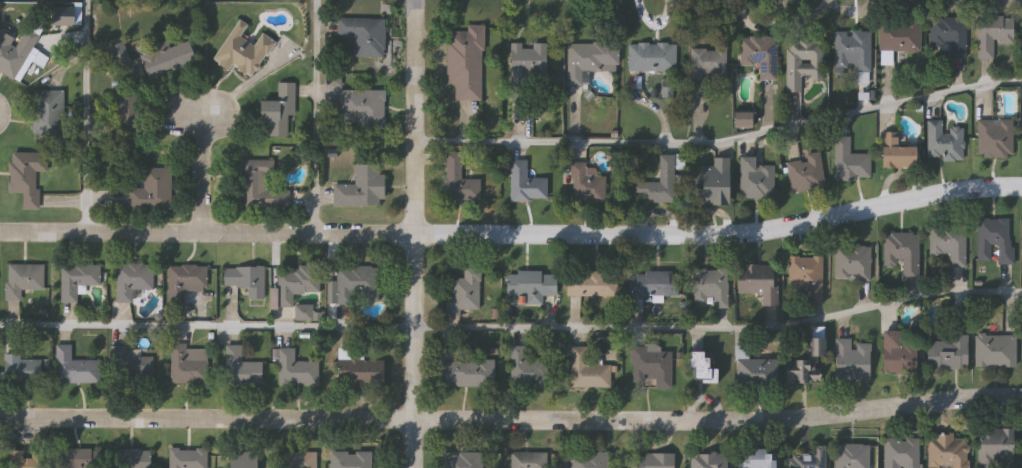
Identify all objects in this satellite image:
building: (950, 34)
building: (993, 34)
building: (365, 35)
building: (900, 36)
building: (243, 50)
building: (853, 50)
building: (14, 52)
building: (118, 54)
building: (760, 55)
building: (652, 57)
building: (590, 59)
building: (169, 60)
building: (467, 62)
building: (803, 62)
building: (528, 63)
building: (706, 69)
building: (364, 108)
building: (279, 110)
building: (48, 114)
building: (126, 115)
road: (87, 116)
road: (318, 117)
building: (742, 118)
building: (995, 138)
road: (722, 141)
building: (945, 141)
building: (897, 152)
building: (850, 161)
road: (203, 171)
building: (806, 172)
building: (26, 175)
building: (756, 178)
building: (460, 181)
building: (525, 182)
building: (586, 182)
building: (659, 182)
building: (713, 183)
building: (262, 185)
building: (364, 187)
building: (152, 190)
road: (416, 233)
road: (513, 236)
building: (995, 239)
building: (949, 242)
building: (902, 253)
building: (853, 263)
building: (23, 278)
building: (805, 279)
building: (133, 280)
building: (248, 280)
building: (186, 281)
building: (759, 281)
building: (591, 282)
building: (298, 283)
building: (654, 283)
building: (359, 284)
building: (530, 284)
building: (711, 287)
building: (463, 292)
building: (306, 312)
road: (512, 328)
building: (995, 349)
building: (948, 352)
building: (898, 353)
building: (852, 359)
building: (131, 361)
building: (808, 361)
building: (189, 364)
building: (652, 364)
building: (75, 366)
building: (703, 366)
building: (242, 367)
building: (525, 368)
building: (21, 369)
building: (298, 369)
building: (359, 369)
building: (754, 369)
building: (588, 370)
building: (467, 371)
road: (511, 424)
building: (997, 447)
building: (948, 451)
building: (902, 452)
building: (854, 456)
building: (76, 457)
building: (134, 458)
building: (187, 458)
building: (23, 459)
building: (351, 459)
building: (757, 459)
building: (808, 459)
building: (242, 460)
building: (301, 460)
building: (463, 460)
building: (527, 460)
building: (589, 460)
building: (652, 460)
building: (710, 460)

